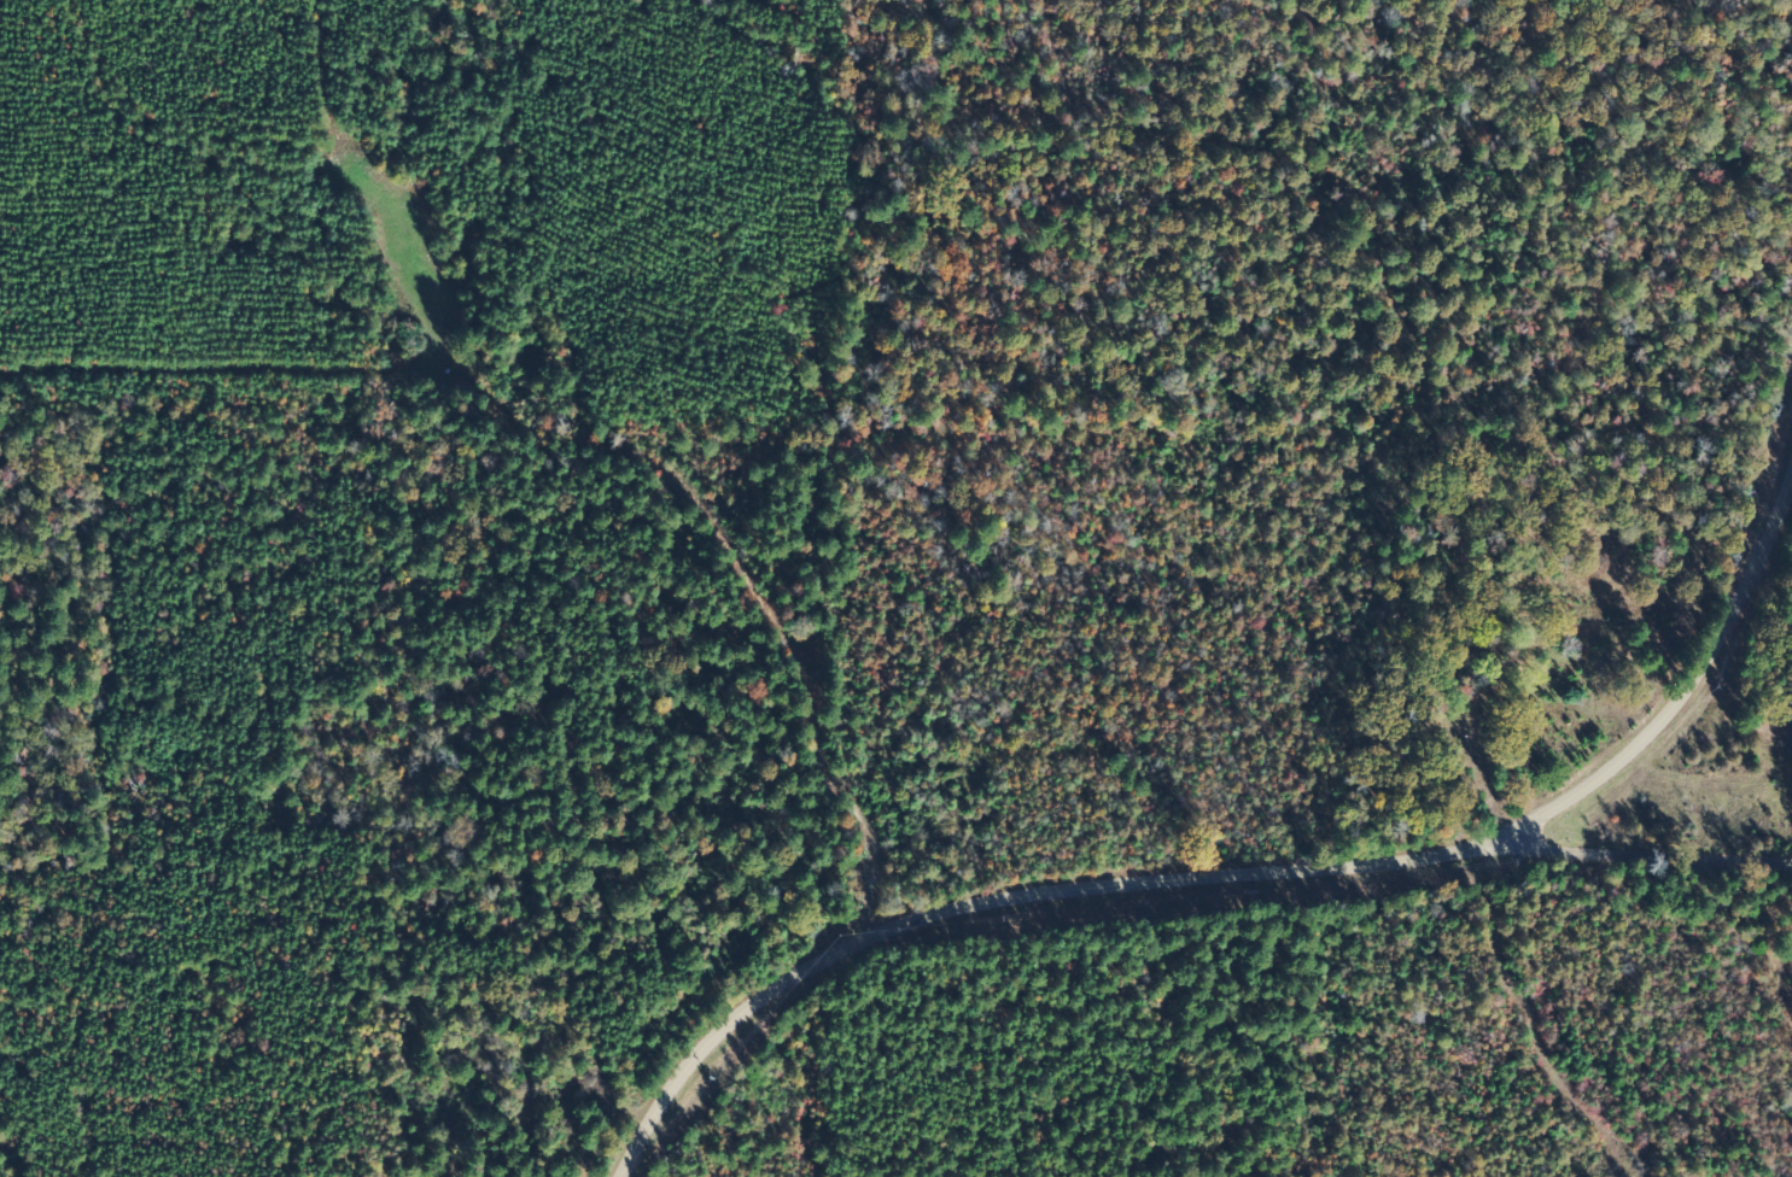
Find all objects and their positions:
road: (1225, 859)
road: (1677, 888)

